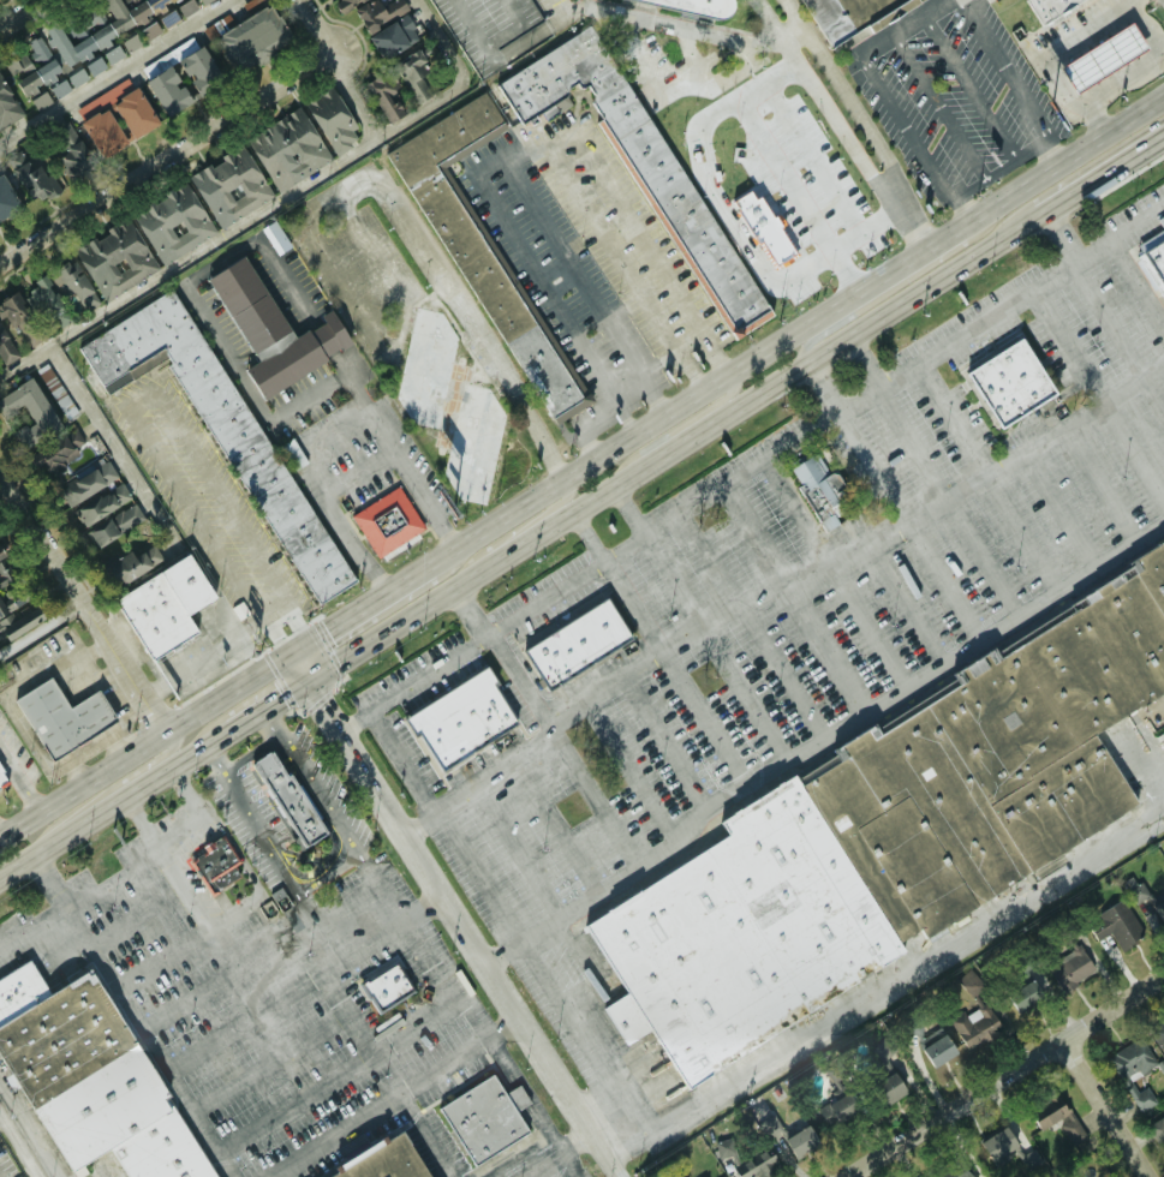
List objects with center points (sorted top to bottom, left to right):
building: (173, 0)
building: (204, 0)
road: (568, 2)
building: (346, 4)
building: (189, 6)
building: (691, 6)
building: (1049, 7)
road: (19, 12)
building: (380, 12)
building: (838, 13)
building: (171, 18)
road: (799, 18)
building: (101, 28)
building: (153, 29)
building: (255, 34)
building: (394, 36)
road: (697, 40)
building: (133, 42)
road: (752, 42)
road: (1051, 49)
building: (1102, 49)
gas station: (1102, 49)
building: (114, 53)
road: (1001, 71)
building: (46, 72)
road: (114, 72)
road: (1135, 72)
building: (183, 78)
building: (414, 78)
road: (881, 84)
road: (973, 86)
building: (59, 88)
road: (351, 95)
building: (386, 95)
road: (943, 106)
building: (7, 107)
building: (113, 118)
building: (332, 120)
road: (872, 141)
road: (187, 142)
building: (287, 149)
building: (66, 150)
road: (1051, 154)
building: (639, 160)
road: (505, 161)
building: (32, 174)
road: (1103, 177)
road: (990, 178)
building: (229, 187)
building: (6, 202)
road: (269, 204)
building: (172, 223)
building: (274, 238)
building: (474, 239)
road: (653, 249)
road: (616, 251)
building: (1153, 253)
building: (114, 261)
road: (1136, 280)
road: (890, 285)
building: (73, 286)
road: (1094, 289)
building: (47, 304)
building: (12, 310)
road: (799, 329)
building: (265, 330)
road: (485, 346)
road: (865, 362)
building: (1007, 384)
road: (823, 387)
building: (48, 390)
road: (1102, 392)
road: (142, 393)
road: (632, 393)
building: (441, 402)
road: (280, 412)
building: (28, 414)
road: (627, 418)
road: (825, 418)
road: (586, 423)
road: (675, 426)
building: (217, 429)
road: (107, 440)
road: (674, 447)
building: (66, 467)
road: (990, 476)
road: (1097, 483)
building: (819, 490)
road: (425, 498)
road: (949, 501)
building: (101, 504)
road: (925, 504)
road: (1061, 506)
road: (632, 508)
road: (333, 509)
road: (238, 515)
building: (386, 522)
road: (914, 522)
building: (114, 525)
road: (209, 527)
road: (514, 531)
road: (587, 536)
building: (0, 555)
building: (131, 564)
road: (840, 572)
road: (905, 604)
road: (362, 607)
road: (84, 608)
building: (156, 608)
building: (14, 614)
road: (756, 626)
traffic signals: (277, 629)
road: (42, 631)
traffic signals: (323, 632)
building: (573, 641)
road: (720, 649)
road: (832, 650)
road: (676, 675)
road: (100, 677)
road: (414, 683)
road: (13, 691)
road: (229, 692)
traffic signals: (287, 694)
traffic signals: (316, 695)
road: (608, 699)
road: (267, 706)
building: (56, 715)
road: (129, 716)
building: (460, 719)
road: (841, 731)
road: (88, 746)
road: (671, 749)
road: (405, 761)
road: (103, 771)
road: (637, 772)
road: (19, 778)
building: (1, 783)
road: (106, 789)
road: (321, 789)
building: (283, 797)
road: (113, 805)
road: (204, 814)
road: (419, 821)
road: (557, 821)
road: (19, 828)
road: (261, 831)
building: (883, 832)
road: (1, 840)
road: (458, 842)
building: (211, 859)
road: (137, 861)
road: (253, 874)
road: (52, 880)
road: (185, 888)
building: (1136, 892)
road: (346, 898)
road: (550, 904)
building: (1159, 910)
road: (453, 915)
road: (131, 924)
building: (1115, 926)
road: (500, 950)
road: (163, 958)
building: (1068, 967)
road: (228, 975)
road: (906, 975)
road: (303, 980)
building: (384, 984)
building: (1023, 997)
road: (130, 1010)
road: (347, 1010)
road: (470, 1015)
building: (974, 1027)
road: (396, 1036)
building: (1159, 1039)
building: (936, 1048)
road: (460, 1054)
road: (271, 1062)
building: (1130, 1064)
road: (1005, 1076)
building: (86, 1081)
road: (529, 1092)
building: (1142, 1100)
road: (380, 1106)
road: (1104, 1109)
building: (836, 1112)
building: (480, 1118)
building: (1056, 1118)
building: (1156, 1128)
road: (580, 1136)
building: (800, 1143)
building: (997, 1146)
road: (18, 1147)
building: (727, 1153)
building: (378, 1160)
building: (758, 1167)
building: (957, 1172)

